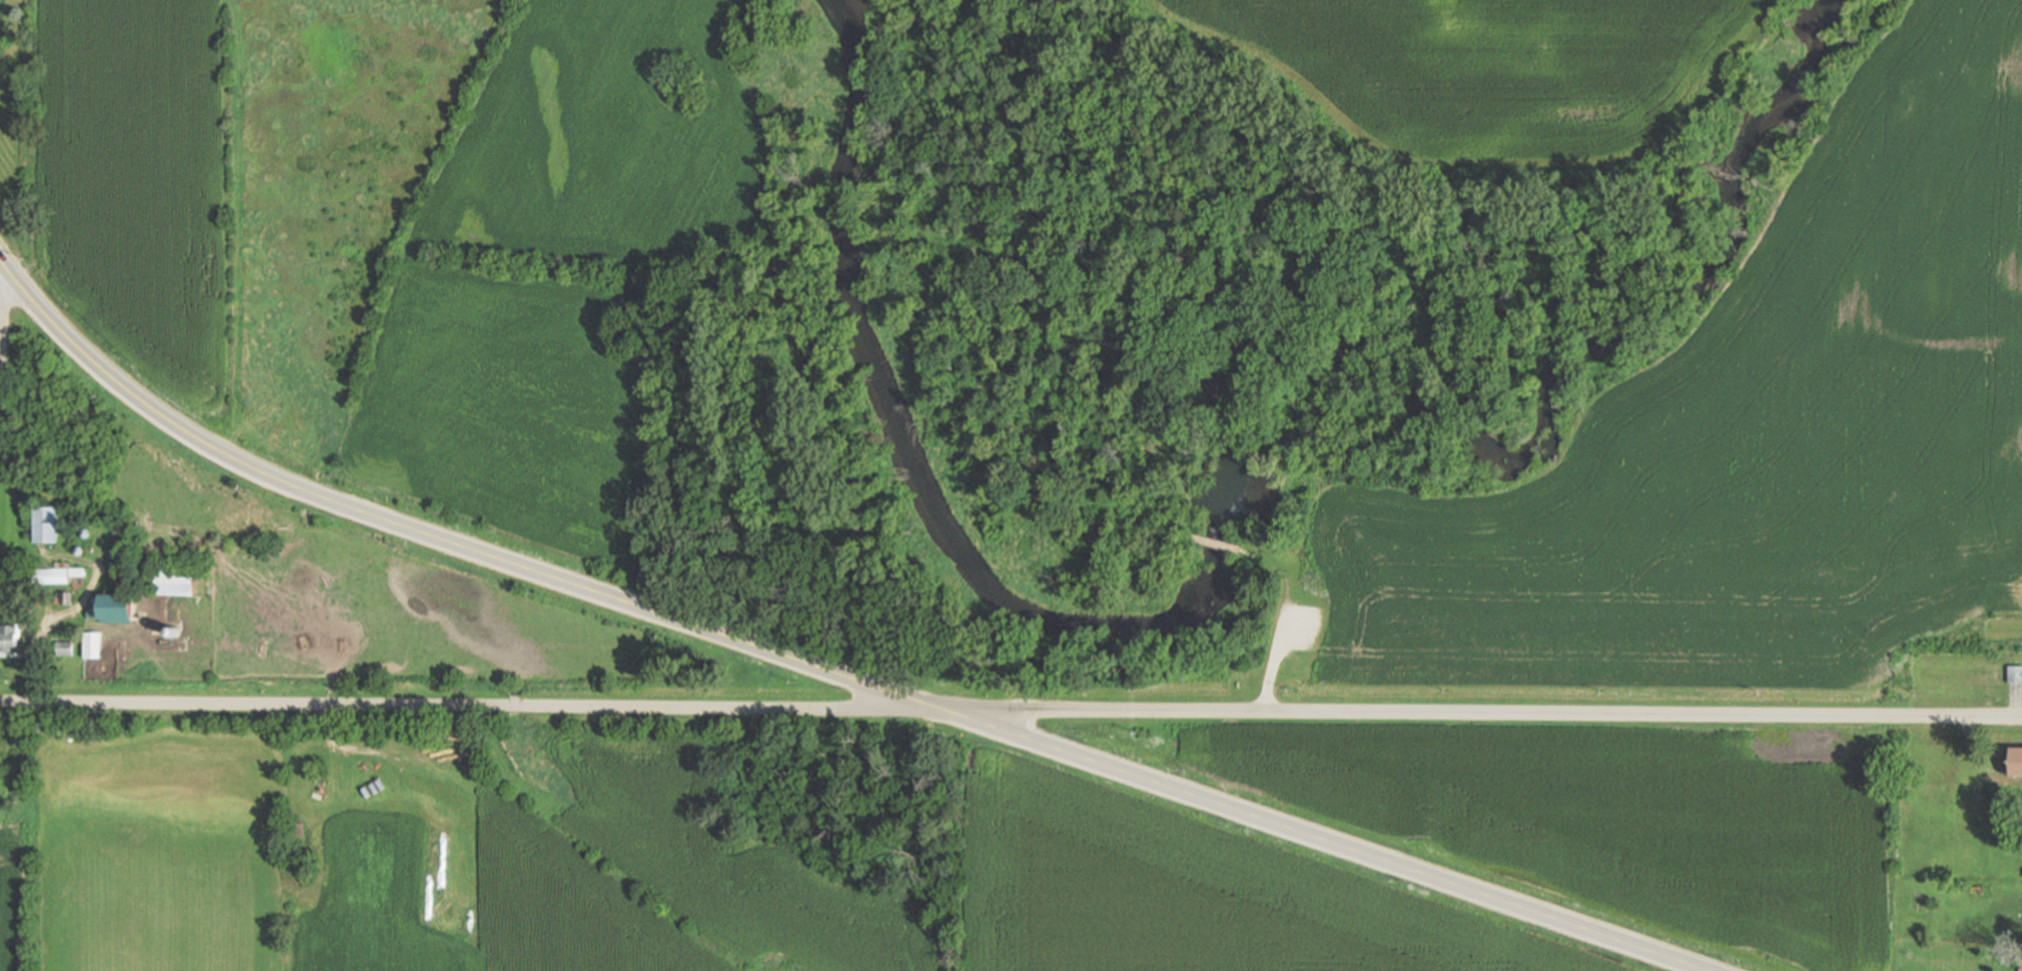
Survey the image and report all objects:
crop: (1491, 68)
crop: (136, 180)
crop: (502, 292)
road: (31, 373)
crop: (1755, 438)
river: (1210, 444)
building: (44, 526)
building: (129, 529)
road: (1212, 542)
road: (1280, 571)
building: (56, 576)
building: (175, 582)
building: (66, 600)
building: (115, 613)
road: (1295, 621)
road: (54, 623)
parking lot: (1293, 627)
building: (8, 639)
building: (92, 646)
building: (64, 649)
road: (1271, 667)
road: (825, 668)
building: (2015, 674)
road: (319, 705)
road: (1640, 713)
building: (2016, 762)
crop: (1625, 820)
crop: (153, 847)
crop: (367, 853)
crop: (715, 853)
crop: (1200, 897)
crop: (10, 902)
crop: (569, 910)
crop: (370, 945)
building: (2020, 970)

